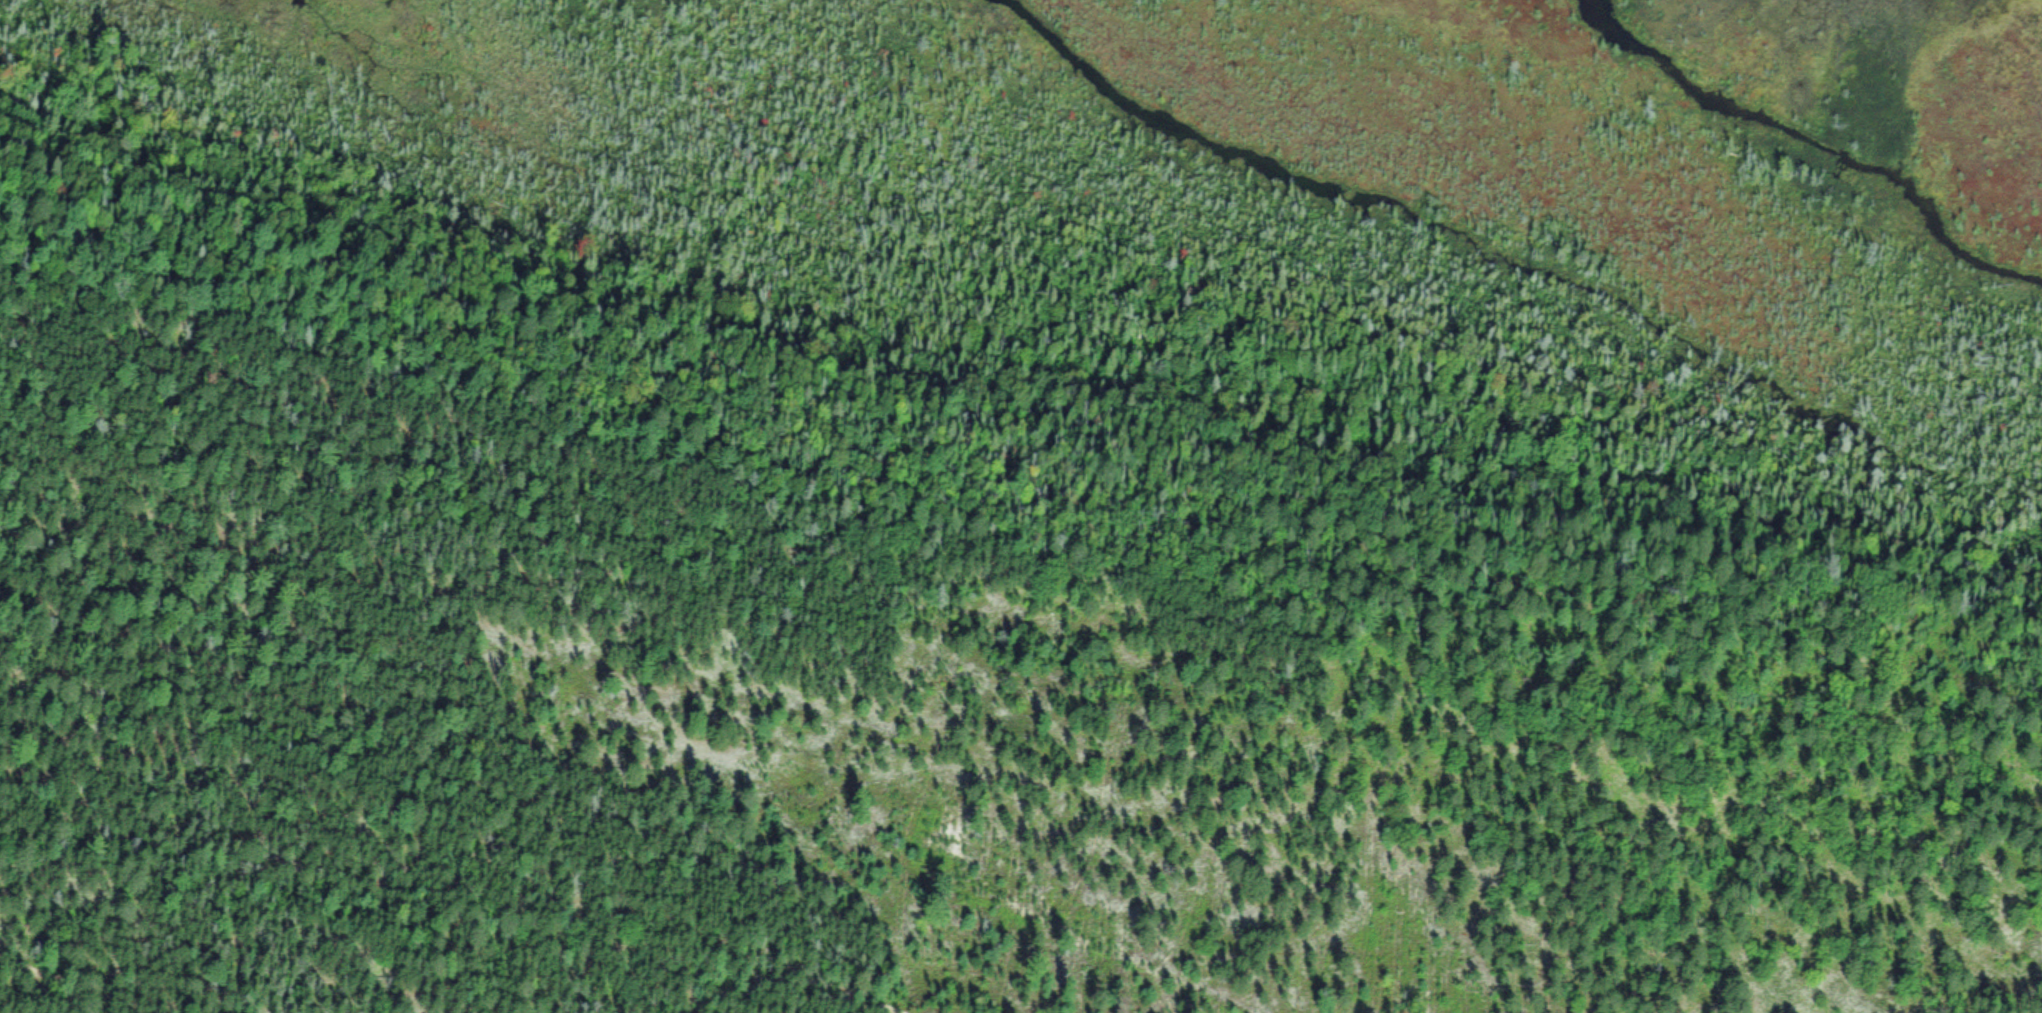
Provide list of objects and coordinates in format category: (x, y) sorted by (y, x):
road: (74, 1002)

